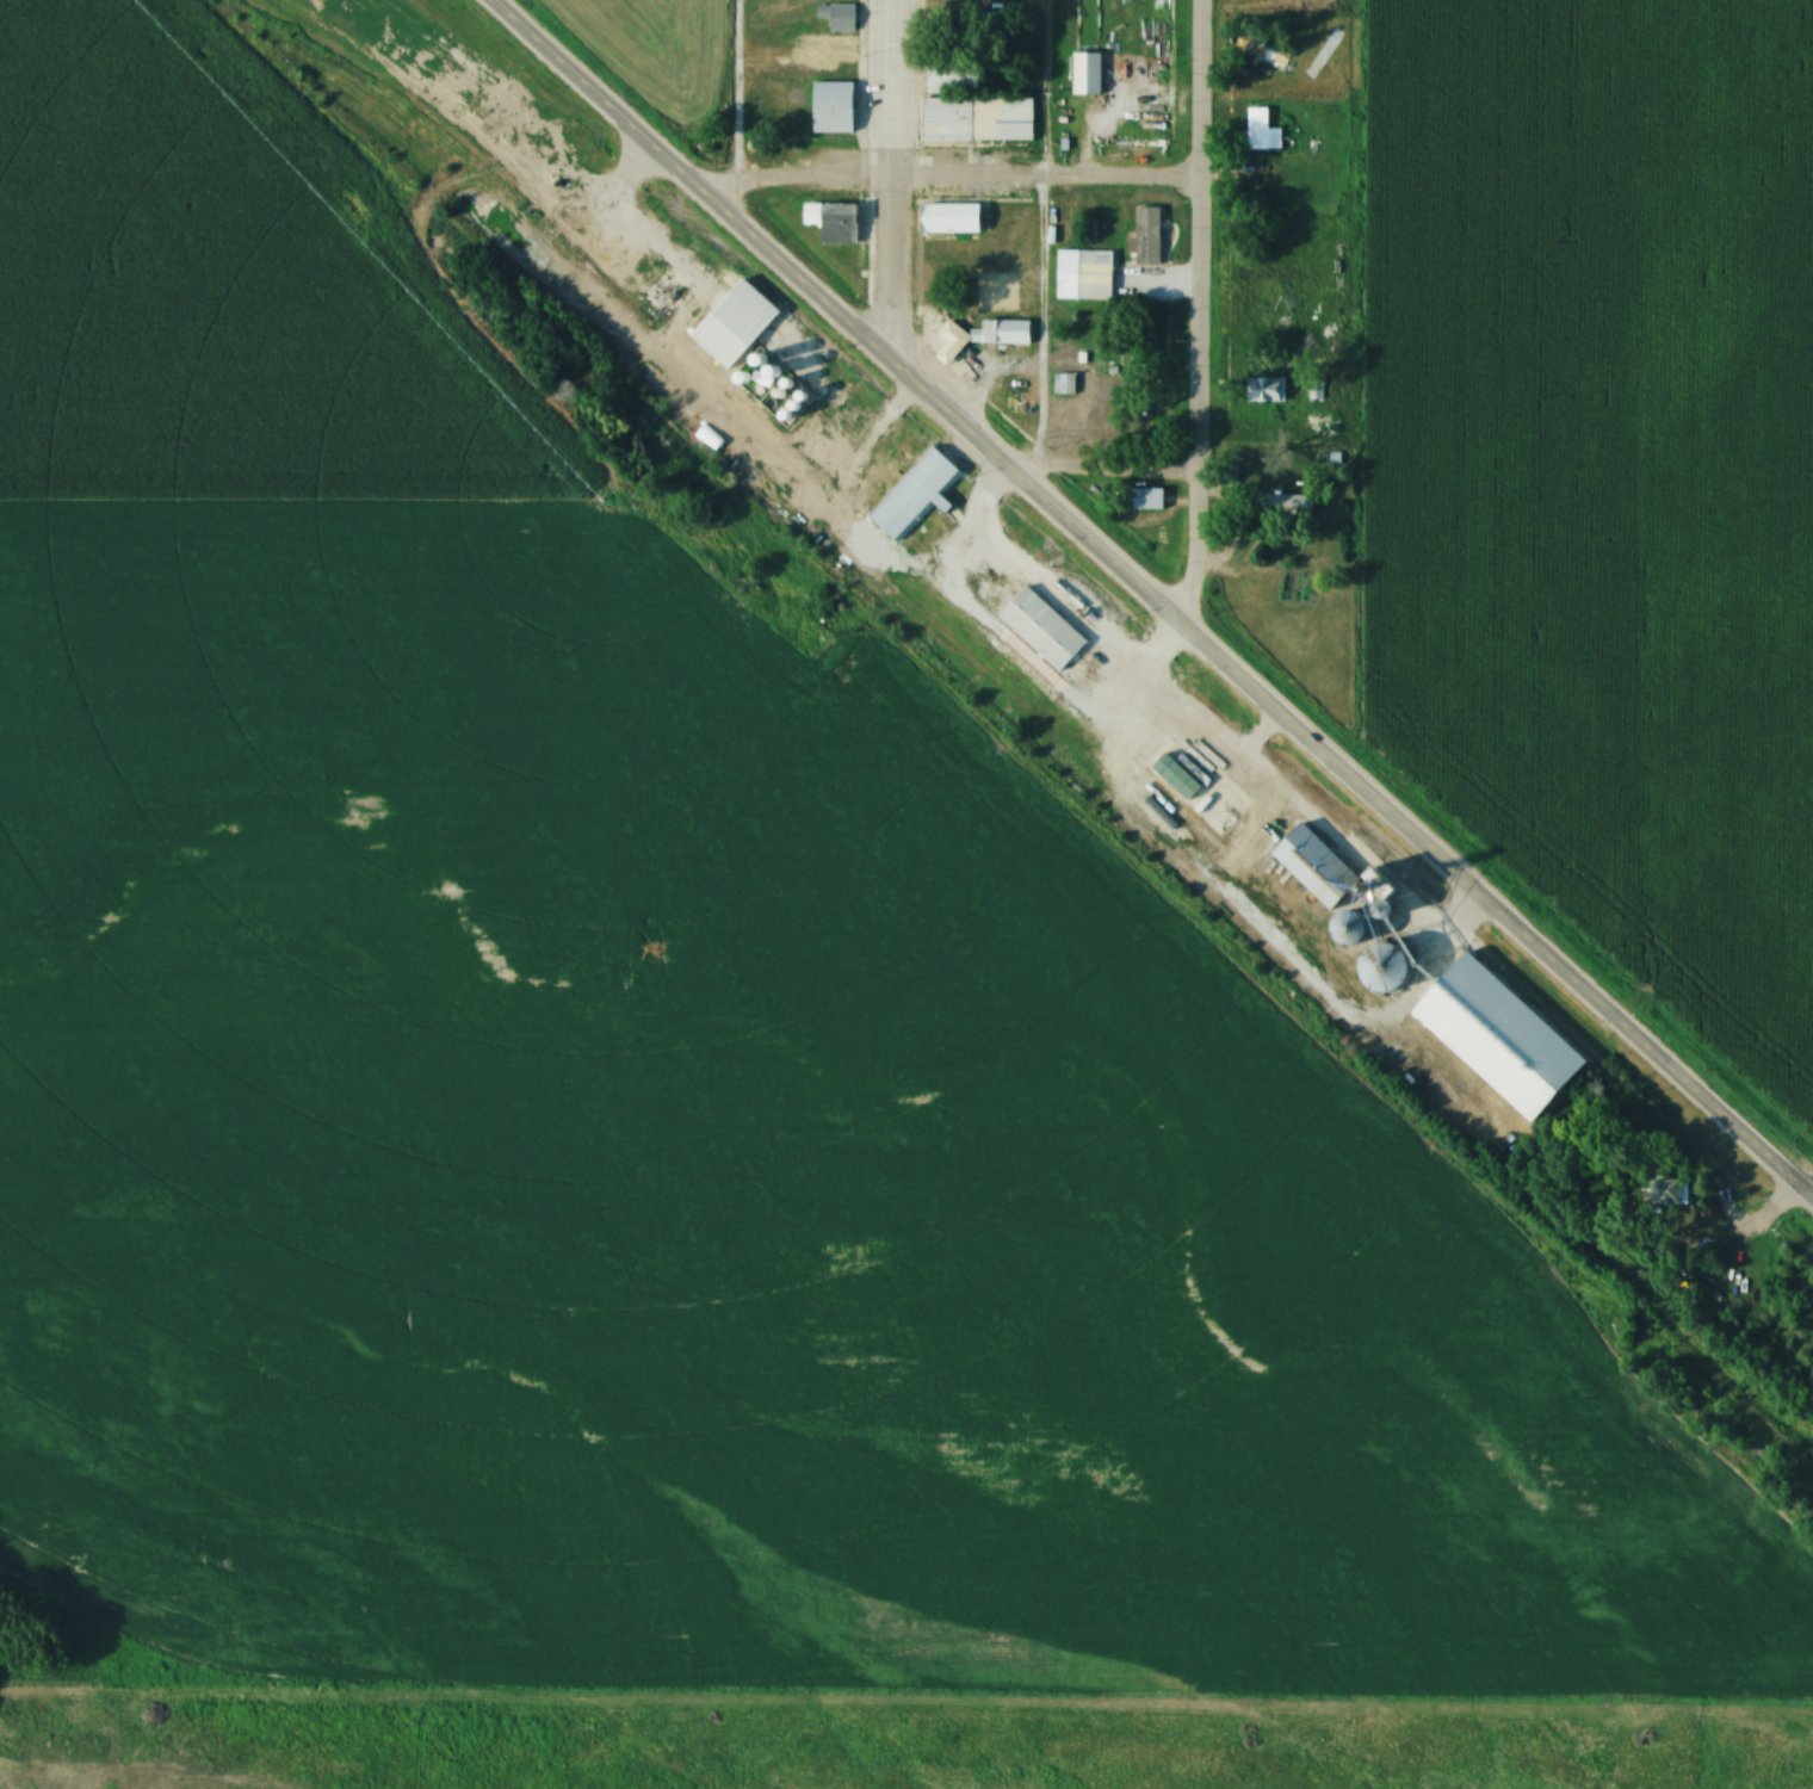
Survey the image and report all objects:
building: (837, 18)
building: (1268, 57)
building: (1085, 75)
building: (952, 78)
building: (831, 109)
building: (977, 120)
building: (1257, 129)
road: (525, 135)
road: (630, 182)
road: (890, 184)
road: (951, 188)
building: (949, 219)
building: (833, 222)
building: (1146, 236)
building: (1094, 274)
road: (1196, 315)
building: (734, 324)
building: (983, 336)
building: (1267, 390)
building: (1020, 394)
road: (1103, 481)
building: (915, 495)
building: (1145, 500)
building: (1280, 502)
road: (1054, 599)
road: (1150, 606)
building: (1041, 630)
building: (1122, 738)
railway: (1027, 739)
road: (1343, 853)
building: (1324, 869)
building: (1357, 929)
building: (1392, 962)
building: (1496, 1036)
building: (1664, 1191)

